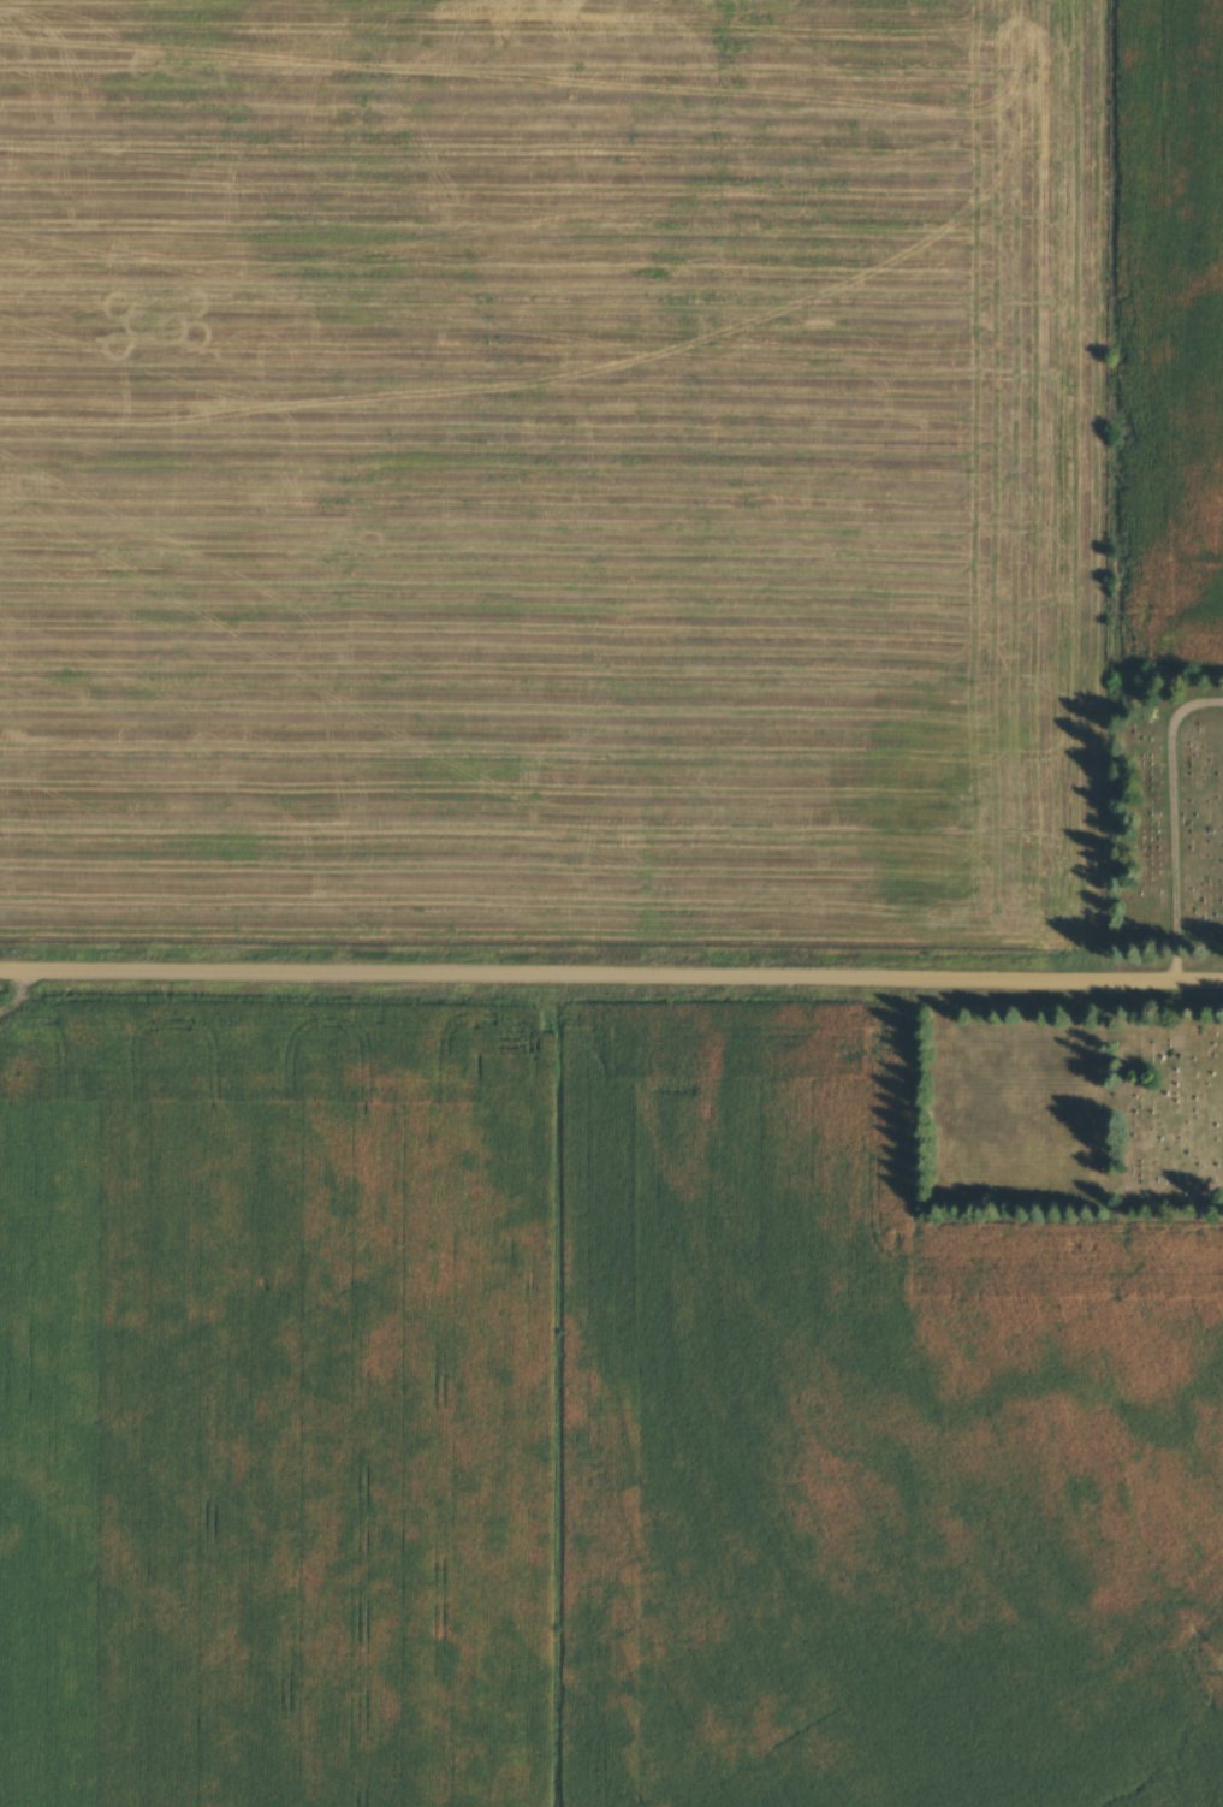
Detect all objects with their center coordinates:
crop: (548, 467)
road: (1166, 818)
road: (611, 971)
crop: (272, 1406)

